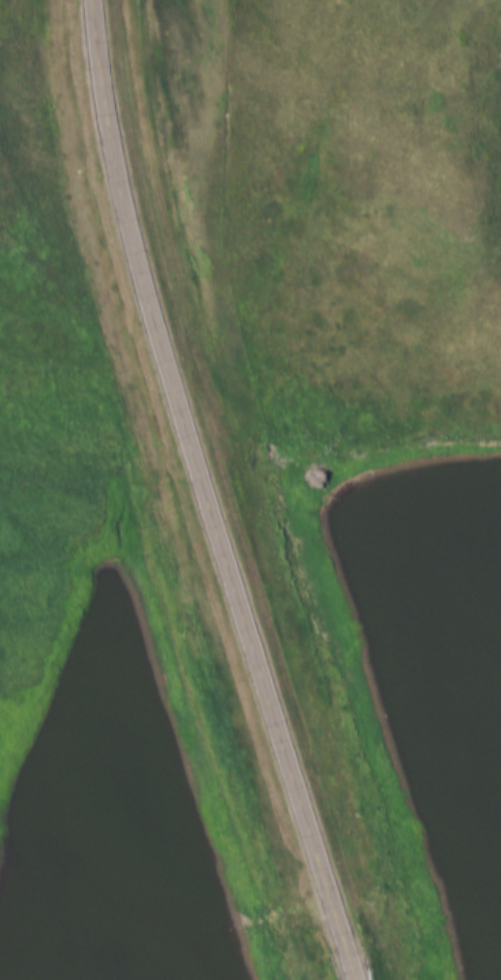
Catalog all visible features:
road: (204, 494)

